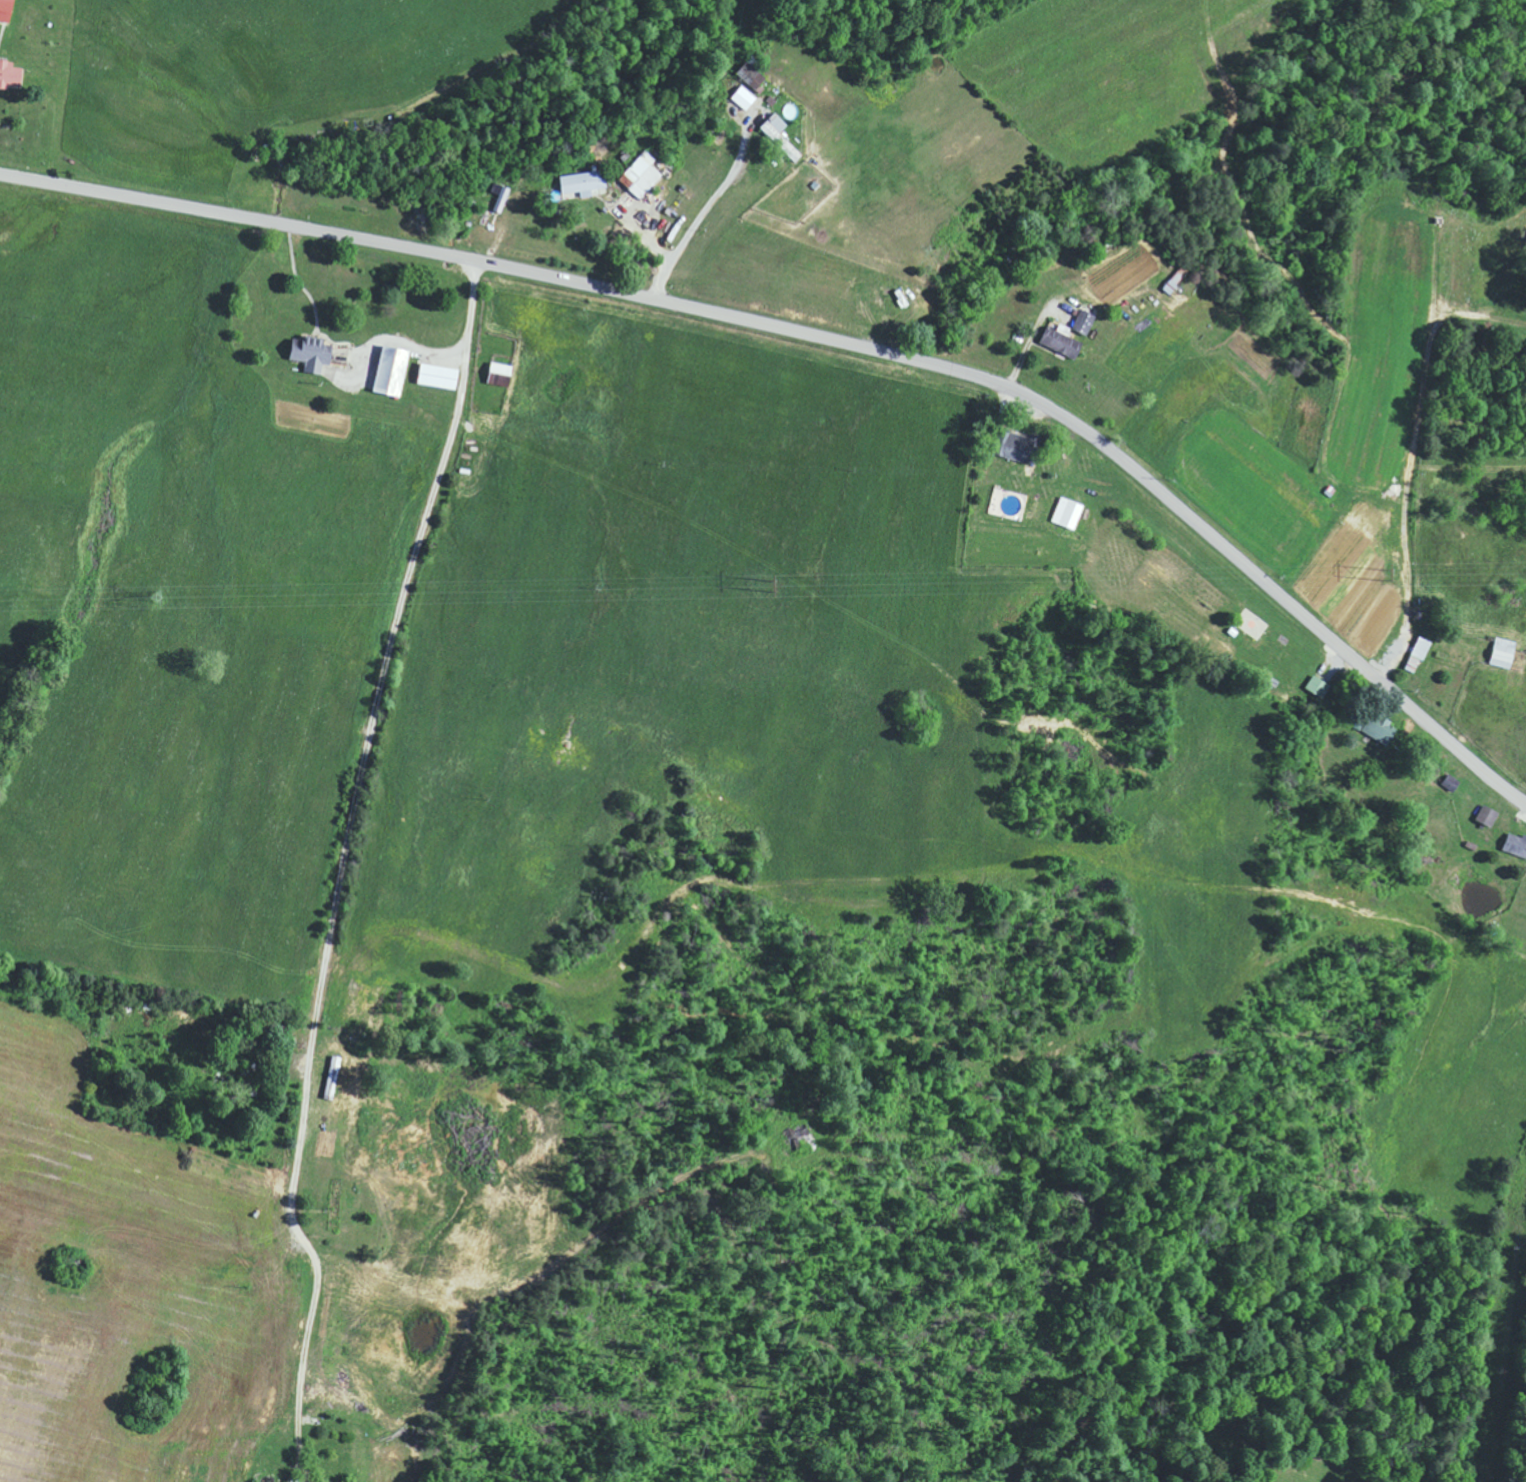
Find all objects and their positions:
building: (6, 10)
building: (11, 74)
building: (744, 97)
building: (775, 126)
building: (789, 148)
building: (641, 175)
building: (583, 182)
building: (501, 196)
building: (1084, 321)
building: (1062, 340)
road: (831, 342)
building: (313, 354)
building: (392, 370)
building: (501, 374)
building: (439, 375)
building: (1015, 445)
building: (1069, 513)
building: (1417, 655)
building: (1319, 686)
building: (1378, 732)
building: (1489, 816)
road: (336, 830)
building: (1516, 844)
road: (547, 1272)

